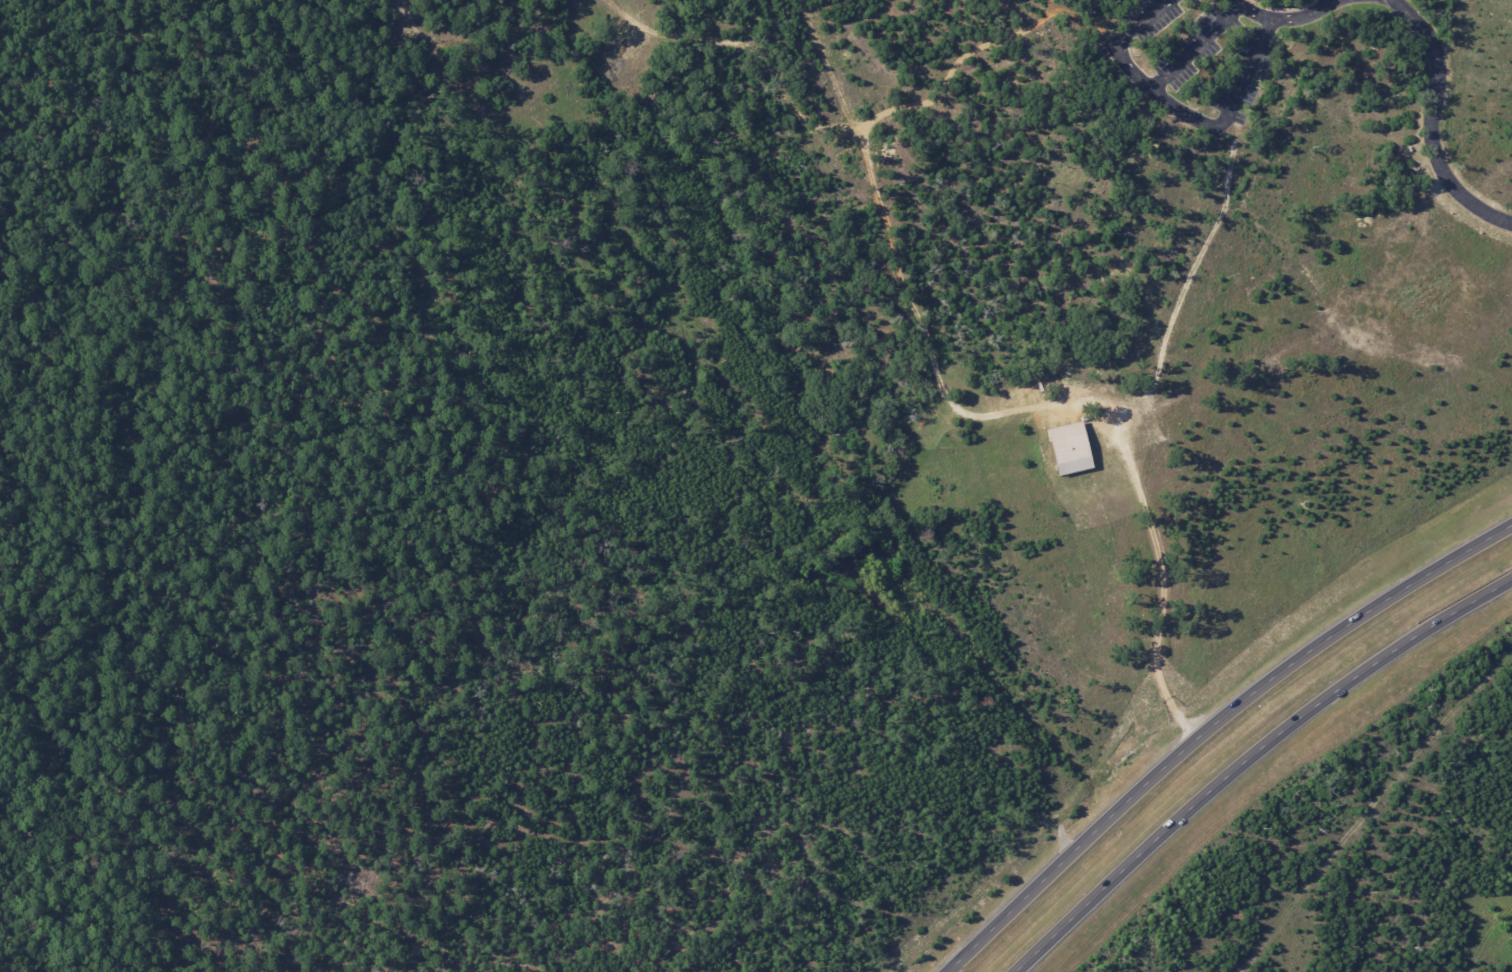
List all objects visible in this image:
road: (1323, 2)
road: (1355, 9)
road: (1243, 19)
road: (1305, 29)
road: (1194, 60)
road: (1173, 117)
road: (1431, 122)
building: (1072, 448)
road: (1149, 529)
road: (1211, 726)
road: (1248, 756)

